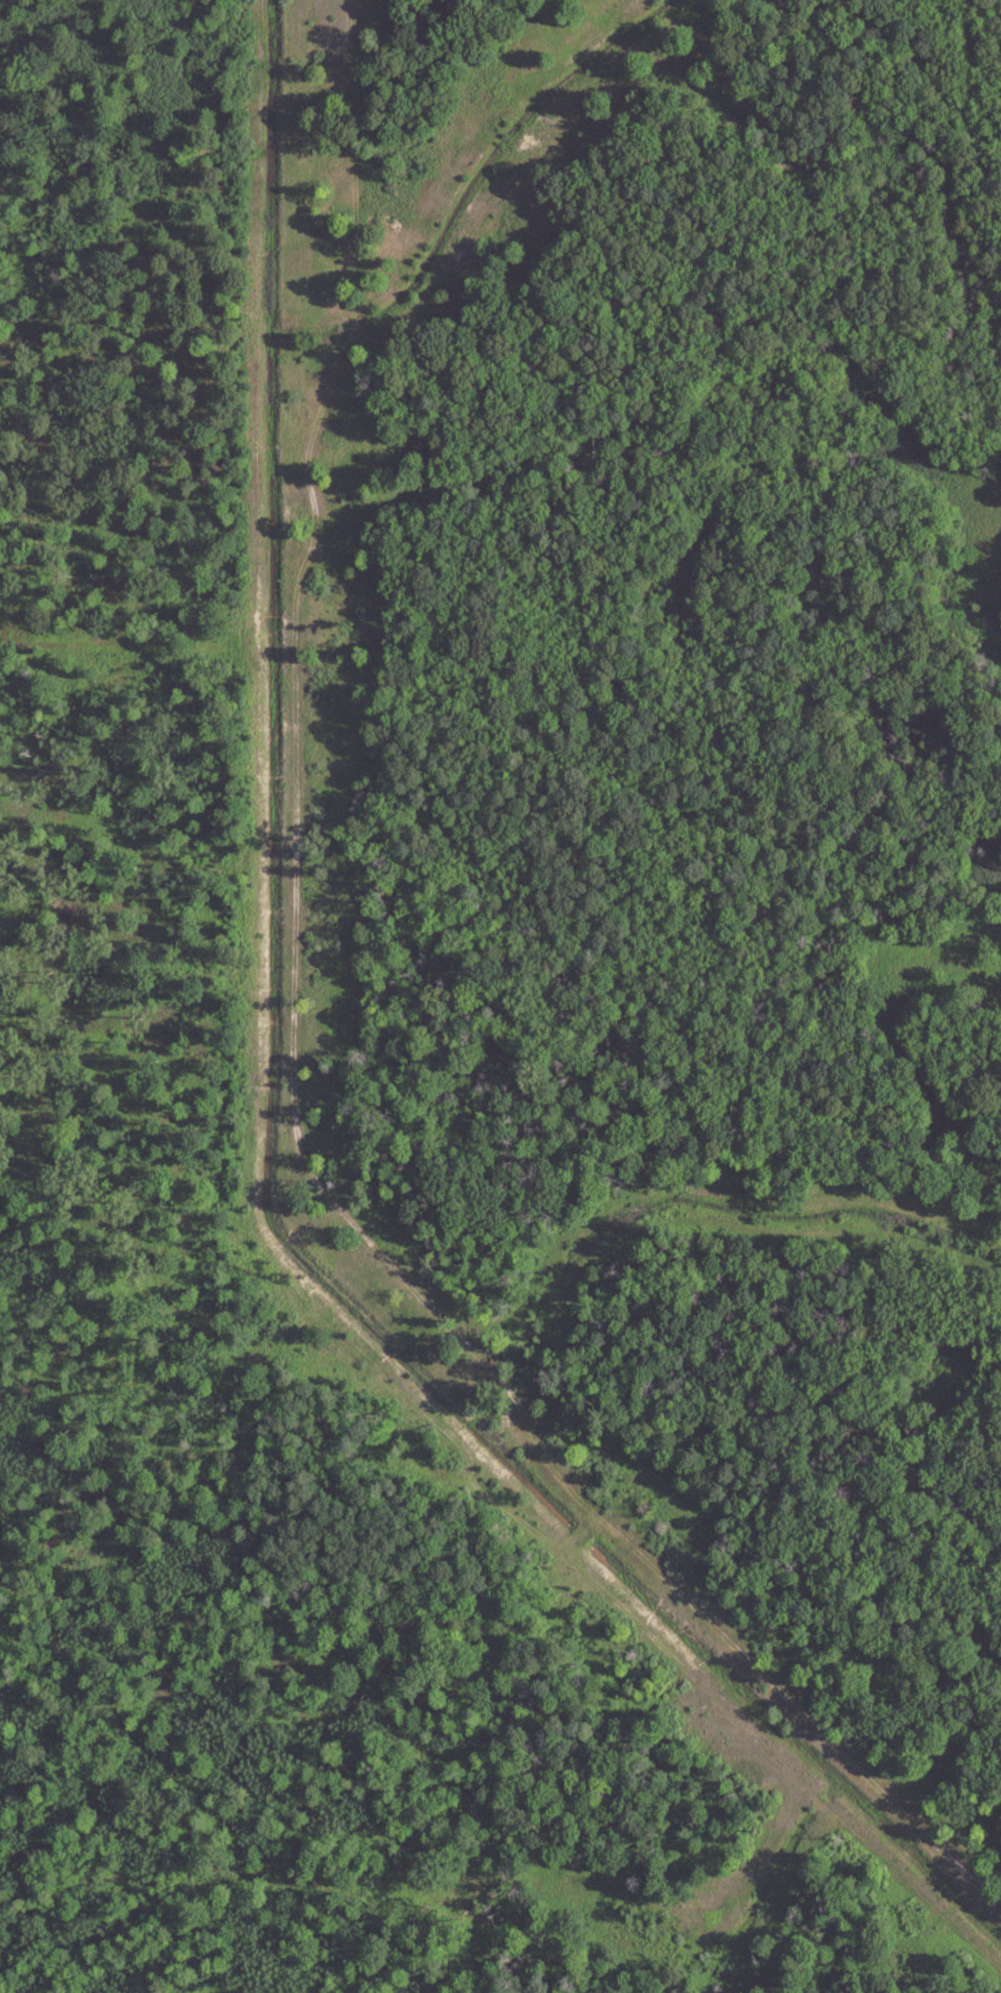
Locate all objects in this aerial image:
road: (517, 155)
road: (296, 1084)

